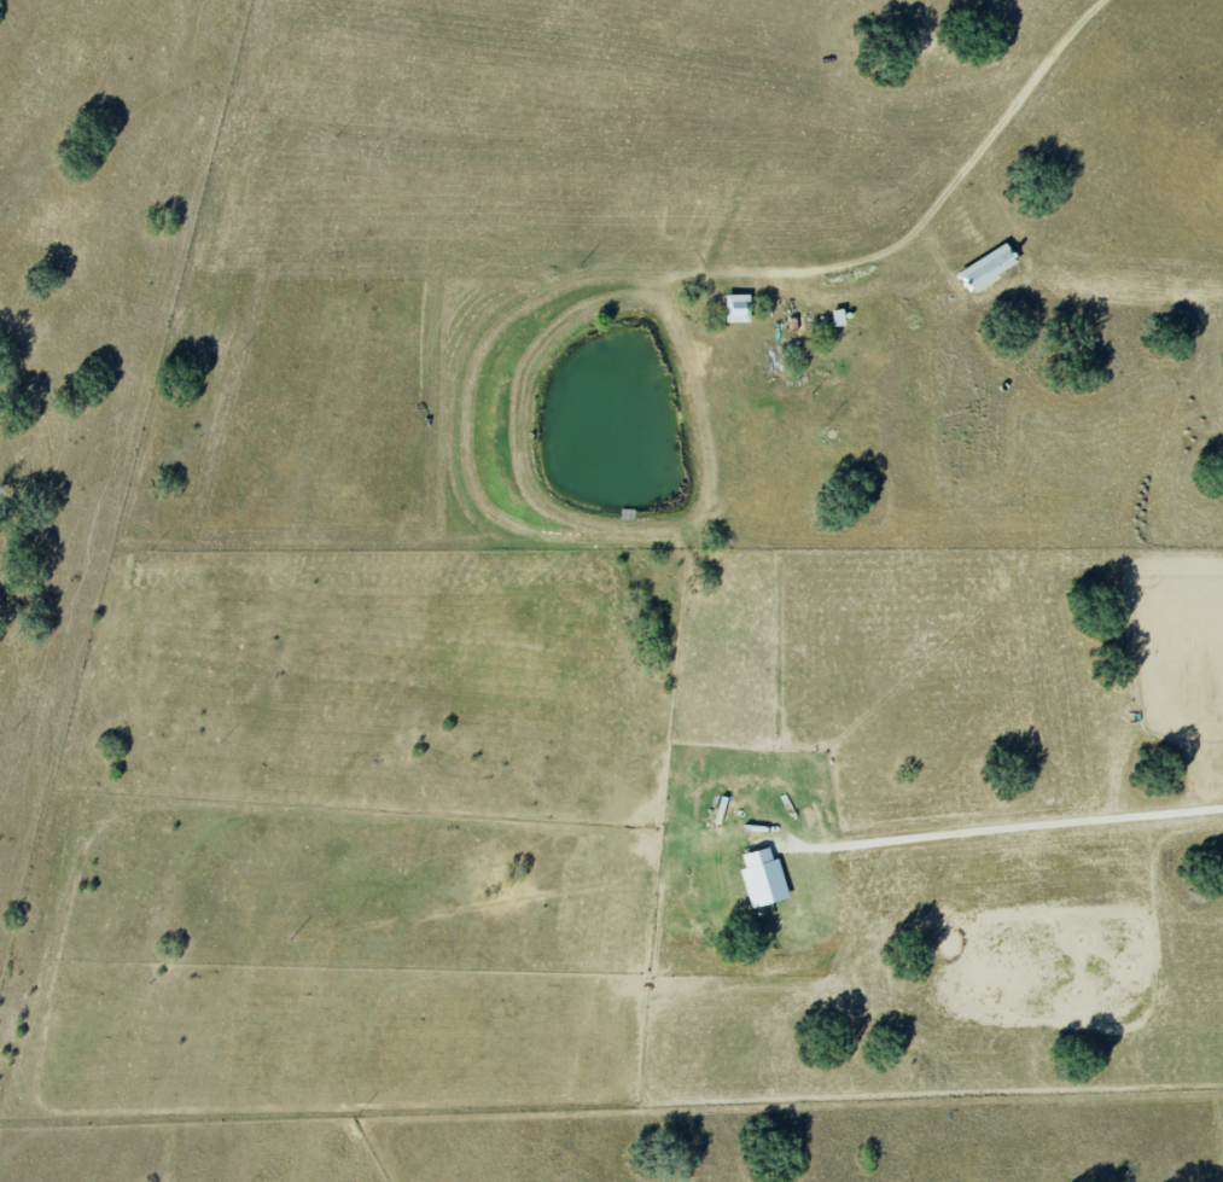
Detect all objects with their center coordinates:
road: (951, 186)
building: (990, 267)
road: (1004, 828)
building: (764, 878)

